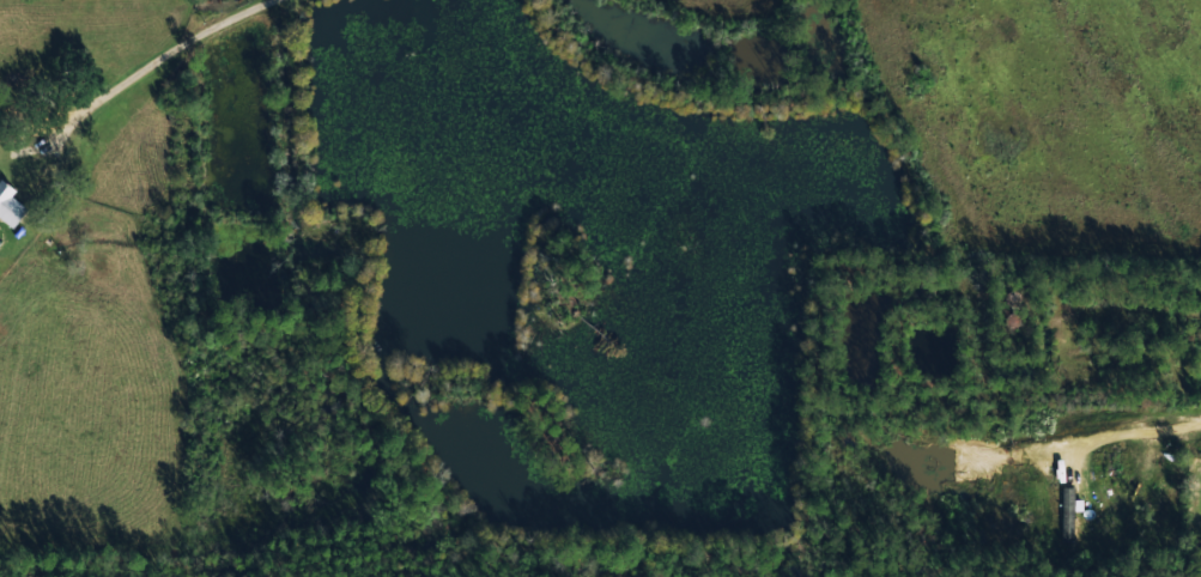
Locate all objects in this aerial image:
road: (86, 102)
building: (11, 206)

